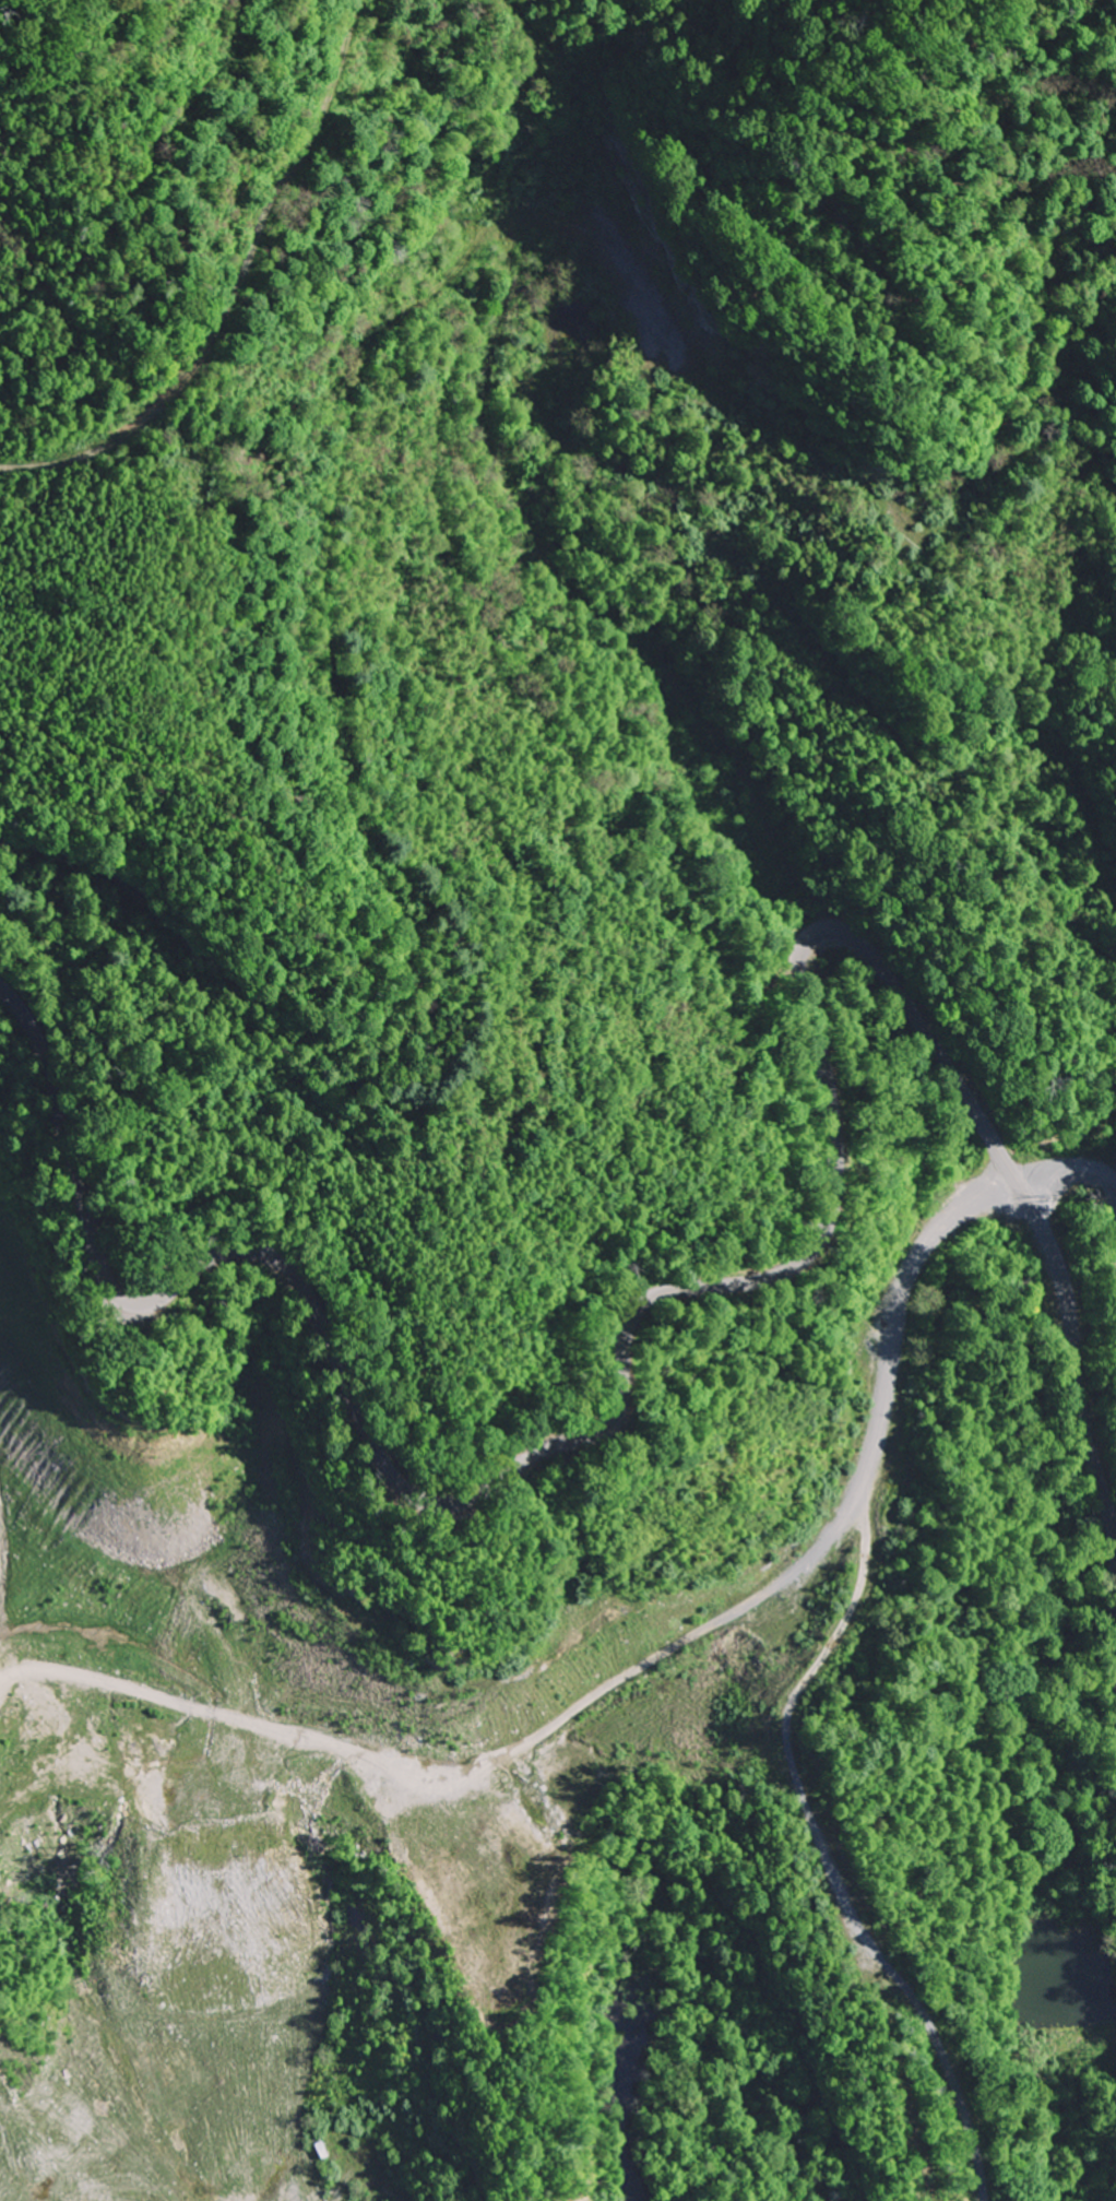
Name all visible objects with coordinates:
road: (838, 469)
road: (827, 542)
road: (784, 604)
road: (642, 648)
road: (678, 1291)
road: (248, 1364)
road: (672, 1662)
building: (304, 2020)
building: (238, 2060)
building: (306, 2181)

